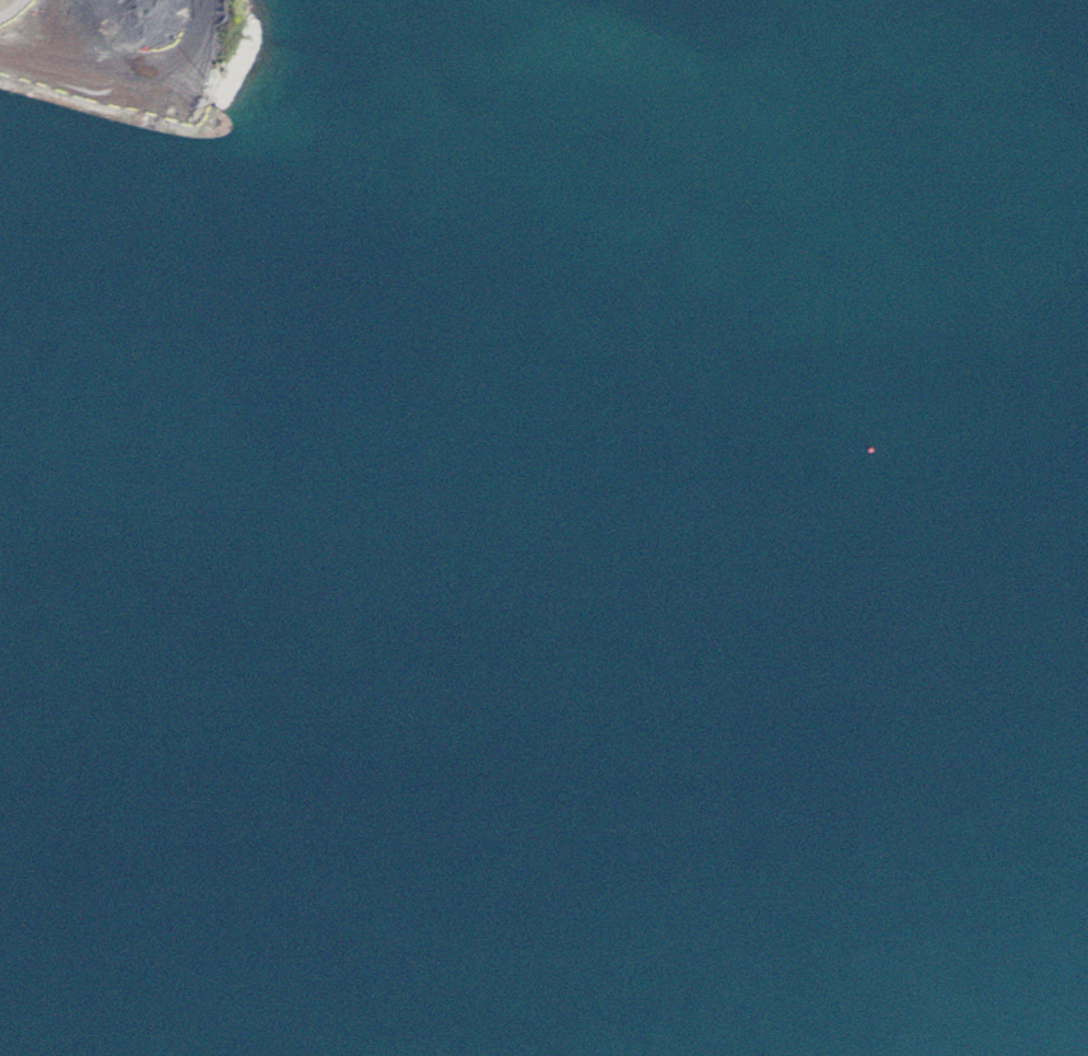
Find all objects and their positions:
quarry: (141, 65)
river: (1005, 1034)

